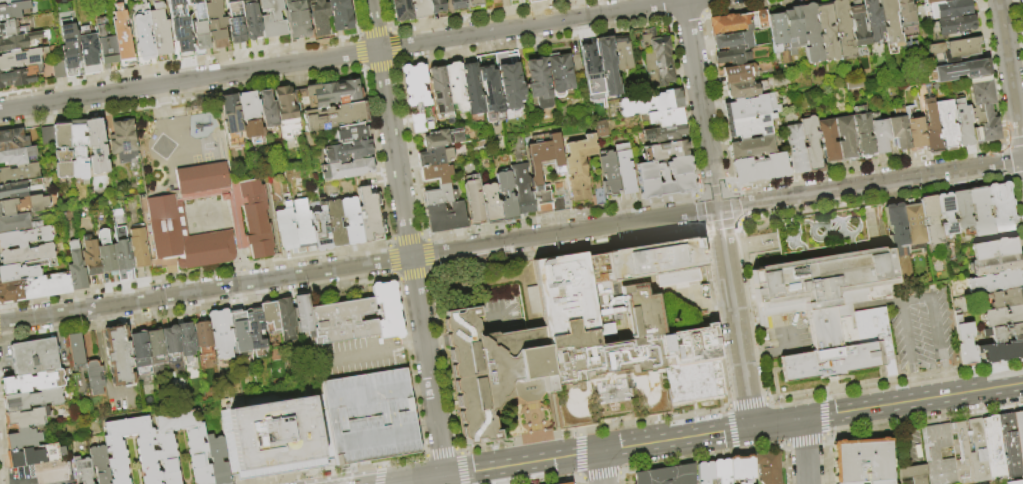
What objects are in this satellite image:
building: (207, 0)
building: (489, 0)
building: (536, 1)
building: (931, 1)
building: (1021, 1)
building: (9, 2)
building: (475, 3)
building: (458, 5)
building: (437, 6)
building: (949, 8)
building: (421, 9)
building: (403, 10)
building: (14, 11)
building: (340, 15)
building: (297, 18)
building: (320, 18)
building: (906, 18)
building: (252, 19)
building: (273, 19)
building: (236, 20)
building: (873, 20)
building: (738, 22)
building: (216, 23)
building: (890, 23)
building: (858, 24)
road: (373, 25)
road: (534, 25)
building: (952, 25)
building: (199, 27)
building: (11, 29)
building: (793, 29)
building: (842, 29)
building: (777, 31)
building: (826, 32)
building: (161, 33)
building: (810, 33)
building: (123, 34)
building: (182, 34)
building: (145, 40)
building: (22, 41)
building: (732, 41)
building: (107, 46)
building: (955, 48)
building: (71, 53)
building: (621, 53)
building: (90, 54)
building: (784, 56)
building: (732, 57)
building: (23, 58)
building: (656, 61)
building: (589, 63)
building: (606, 68)
building: (59, 70)
building: (961, 70)
building: (45, 72)
building: (738, 73)
building: (559, 75)
building: (18, 77)
road: (1010, 79)
road: (189, 80)
building: (538, 83)
building: (509, 85)
building: (414, 86)
building: (455, 86)
building: (471, 89)
building: (741, 89)
building: (489, 92)
building: (332, 93)
building: (439, 93)
building: (648, 103)
road: (700, 104)
building: (751, 107)
building: (983, 109)
building: (268, 110)
building: (286, 112)
building: (333, 117)
building: (251, 118)
building: (665, 118)
building: (232, 119)
building: (962, 122)
building: (417, 123)
building: (946, 125)
building: (749, 126)
building: (932, 127)
building: (899, 132)
building: (916, 132)
building: (862, 133)
building: (47, 134)
building: (350, 134)
building: (663, 134)
building: (880, 135)
building: (844, 136)
building: (441, 138)
building: (12, 139)
building: (828, 139)
building: (123, 141)
building: (810, 143)
building: (96, 145)
building: (751, 147)
building: (796, 148)
building: (62, 150)
building: (77, 151)
building: (664, 151)
building: (346, 152)
road: (394, 154)
building: (17, 156)
building: (434, 157)
building: (581, 160)
building: (623, 168)
building: (663, 168)
building: (759, 168)
building: (558, 169)
building: (347, 170)
building: (19, 173)
building: (435, 173)
building: (608, 173)
road: (870, 184)
building: (665, 186)
building: (557, 187)
building: (16, 188)
building: (521, 189)
building: (439, 195)
building: (505, 197)
building: (473, 201)
building: (22, 204)
building: (489, 204)
building: (1000, 207)
building: (961, 212)
building: (979, 212)
building: (945, 214)
building: (369, 215)
building: (166, 217)
building: (444, 217)
building: (930, 220)
building: (351, 221)
building: (16, 223)
building: (335, 223)
building: (302, 224)
building: (913, 224)
building: (286, 227)
road: (598, 227)
building: (320, 229)
building: (896, 230)
building: (24, 236)
parking lot: (761, 246)
building: (138, 247)
building: (993, 248)
building: (121, 249)
road: (444, 252)
building: (106, 253)
building: (27, 255)
building: (90, 256)
building: (994, 265)
building: (76, 268)
building: (17, 272)
building: (996, 281)
building: (46, 286)
building: (11, 290)
road: (205, 290)
building: (1005, 298)
road: (934, 302)
building: (387, 310)
building: (832, 310)
building: (303, 313)
building: (1003, 316)
building: (270, 317)
road: (734, 317)
building: (286, 319)
road: (419, 319)
building: (343, 322)
road: (795, 326)
road: (903, 330)
building: (255, 331)
building: (1004, 333)
building: (203, 334)
building: (221, 334)
building: (240, 336)
building: (584, 337)
building: (171, 341)
building: (187, 341)
building: (964, 342)
building: (155, 344)
road: (411, 344)
building: (140, 345)
road: (362, 352)
building: (1000, 352)
road: (759, 353)
building: (34, 357)
building: (119, 357)
building: (78, 364)
road: (945, 366)
road: (911, 377)
building: (95, 378)
building: (34, 382)
building: (33, 400)
road: (887, 405)
road: (906, 414)
building: (368, 416)
parking garage: (368, 416)
building: (26, 419)
traffic signals: (752, 427)
road: (437, 429)
building: (1020, 433)
building: (276, 438)
building: (23, 439)
road: (910, 444)
building: (1011, 445)
building: (197, 446)
building: (995, 446)
building: (115, 450)
road: (804, 451)
building: (979, 451)
road: (598, 452)
building: (963, 453)
building: (939, 454)
building: (35, 456)
building: (217, 459)
building: (862, 460)
building: (100, 464)
building: (769, 467)
road: (599, 468)
building: (741, 468)
building: (83, 470)
building: (721, 471)
building: (51, 472)
building: (704, 472)
building: (667, 475)
building: (914, 475)
traffic signals: (445, 476)
road: (420, 480)
building: (882, 482)
building: (1016, 482)
building: (565, 483)
building: (852, 483)

